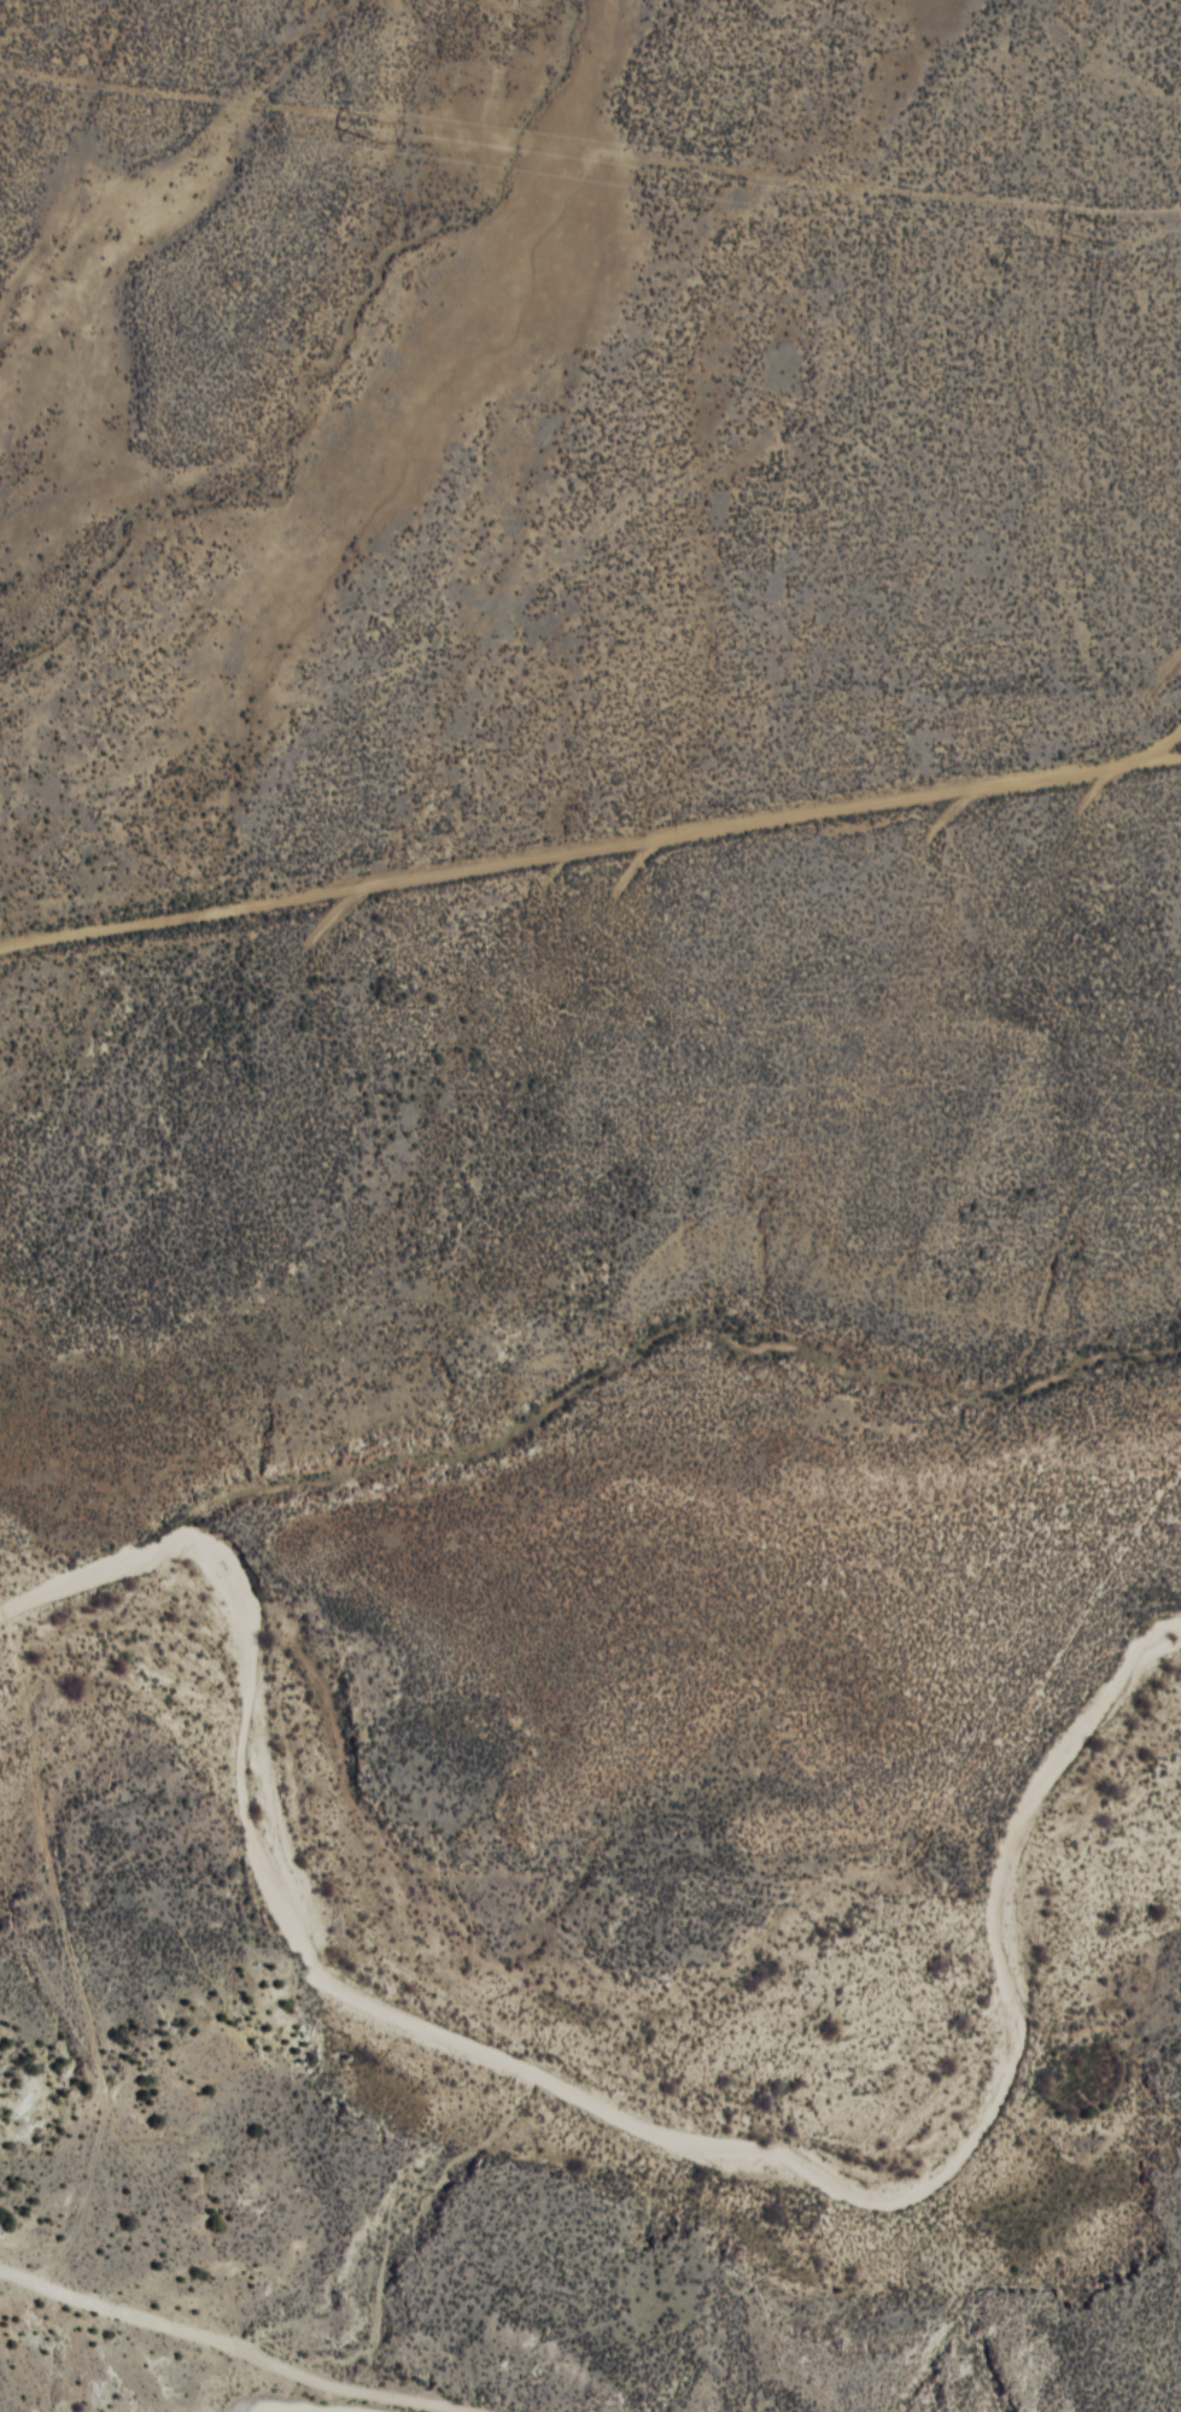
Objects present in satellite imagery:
power tower: (387, 129)
power tower: (1103, 244)
road: (637, 873)
river: (537, 2049)
road: (280, 2214)

